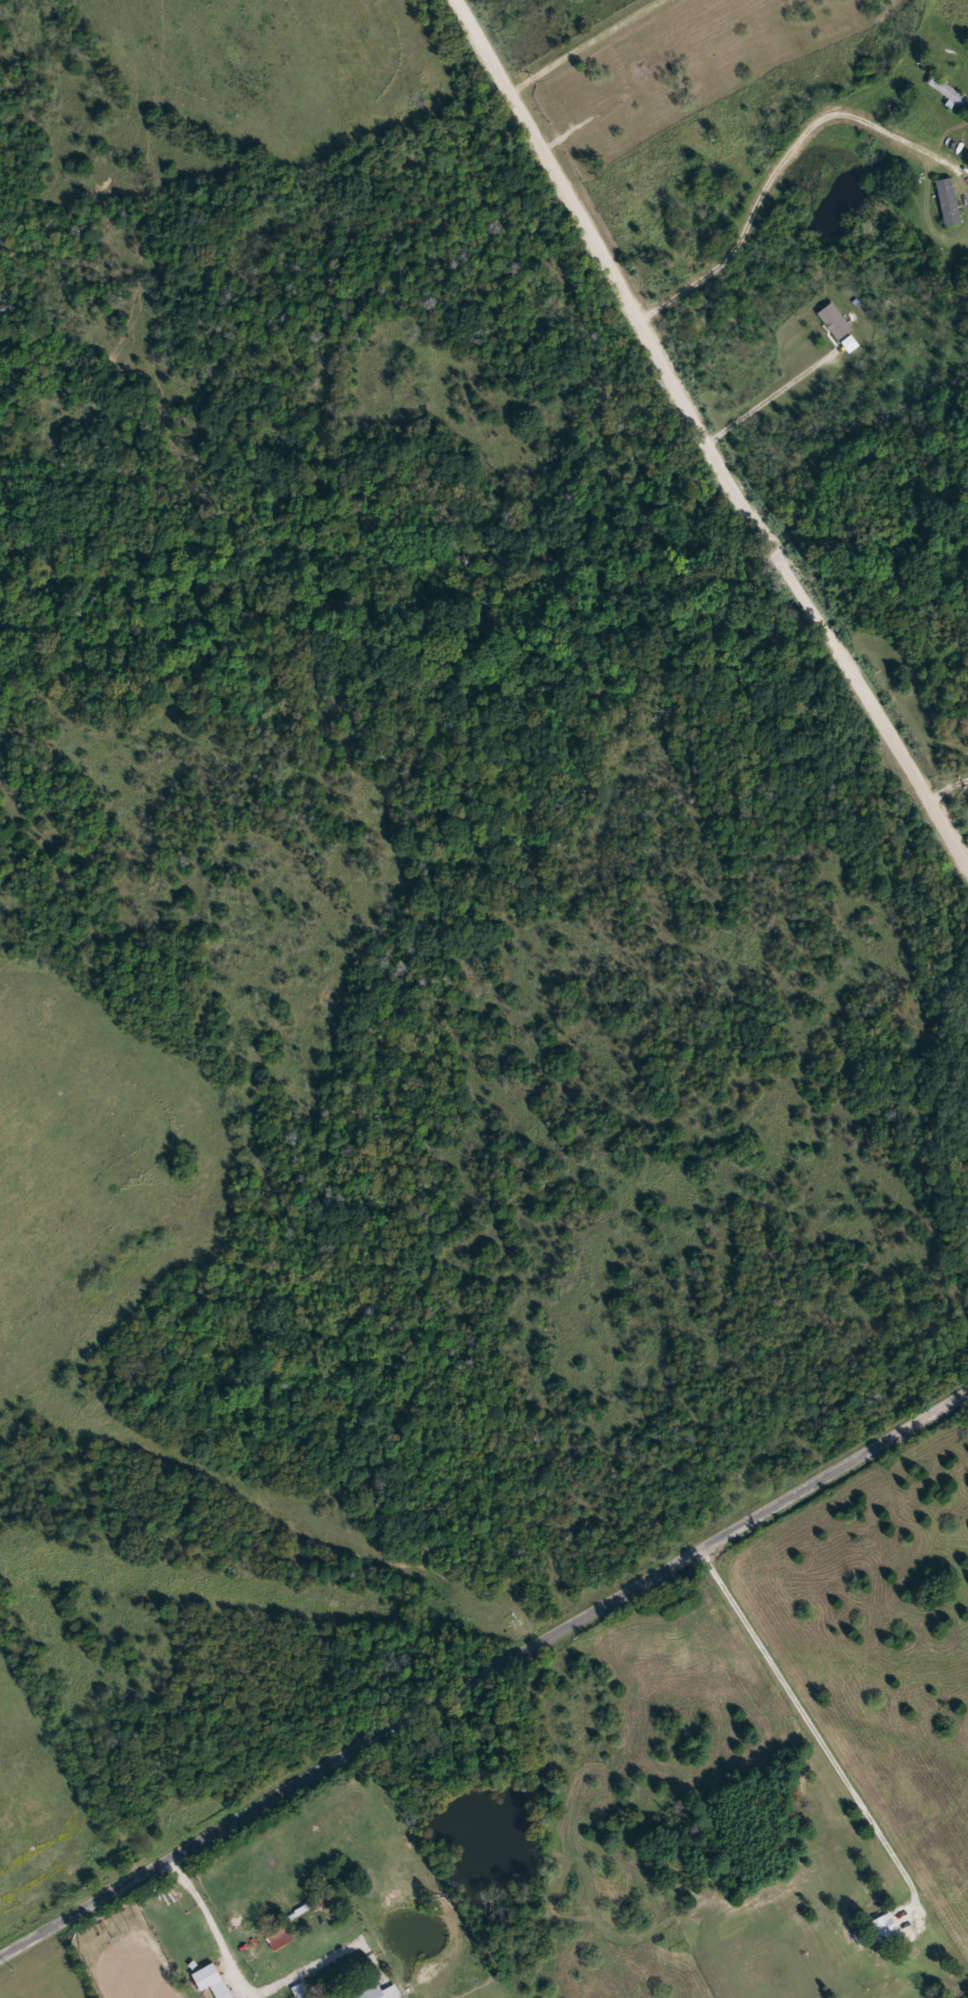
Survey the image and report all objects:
building: (949, 91)
road: (760, 184)
building: (949, 201)
building: (834, 322)
building: (851, 344)
road: (705, 437)
road: (483, 1664)
road: (814, 1722)
building: (884, 1932)
building: (281, 1937)
building: (213, 1981)
building: (313, 1992)
building: (380, 1993)

